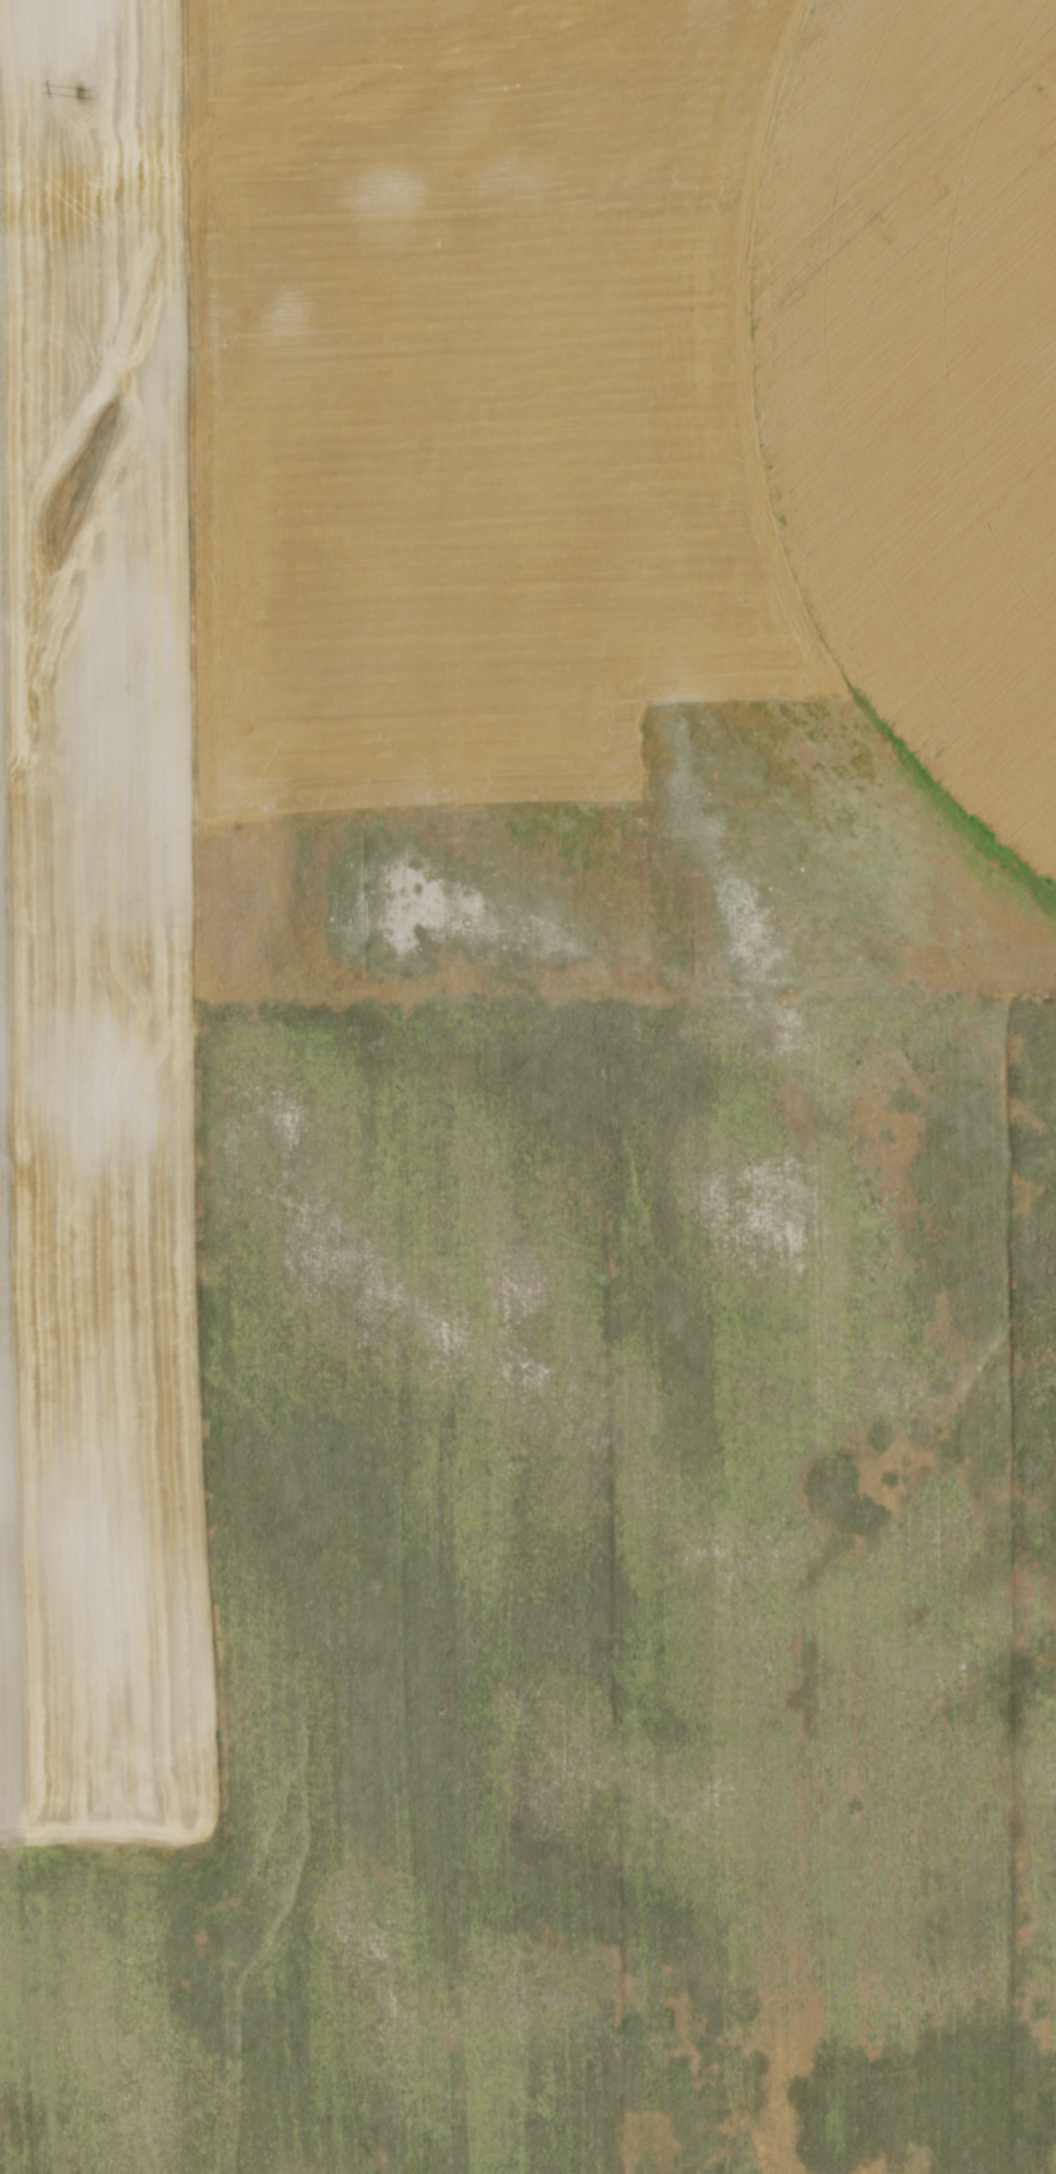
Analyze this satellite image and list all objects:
power tower: (80, 91)

